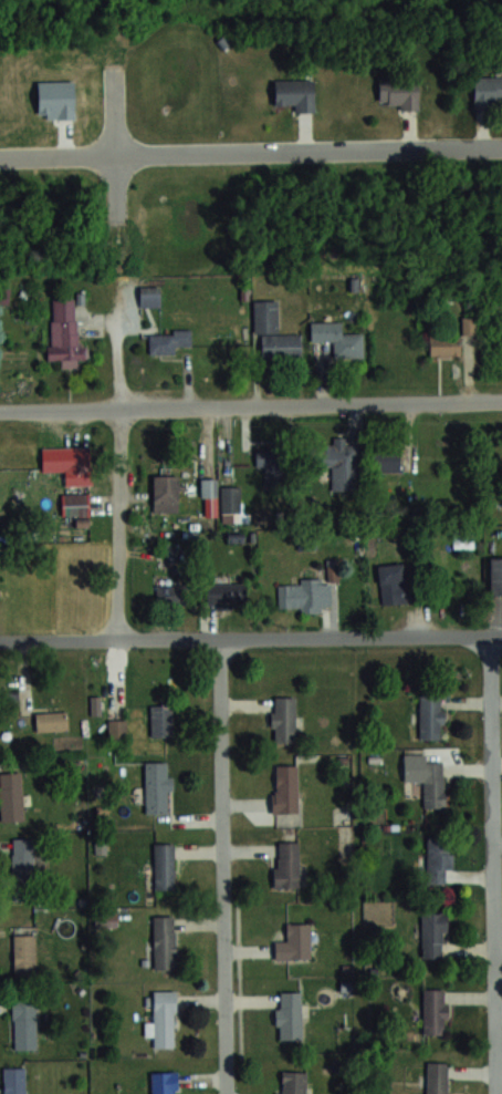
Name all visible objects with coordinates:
building: (295, 93)
building: (398, 93)
building: (488, 93)
road: (251, 152)
building: (149, 296)
building: (64, 331)
building: (274, 332)
building: (339, 340)
building: (168, 341)
building: (445, 348)
road: (250, 403)
building: (63, 460)
building: (385, 461)
building: (342, 464)
building: (165, 494)
building: (74, 504)
road: (116, 523)
building: (495, 575)
building: (398, 582)
building: (226, 594)
building: (170, 595)
building: (305, 595)
road: (251, 636)
building: (9, 698)
building: (430, 716)
building: (283, 719)
building: (160, 720)
building: (51, 721)
building: (116, 726)
building: (433, 784)
building: (156, 786)
building: (284, 787)
building: (10, 796)
building: (438, 860)
road: (490, 863)
building: (286, 864)
road: (219, 865)
building: (164, 866)
building: (22, 868)
building: (433, 933)
building: (164, 941)
building: (294, 942)
building: (24, 953)
building: (433, 1011)
building: (289, 1014)
building: (163, 1019)
building: (24, 1024)
building: (436, 1077)
building: (14, 1080)
building: (164, 1082)
building: (292, 1082)

